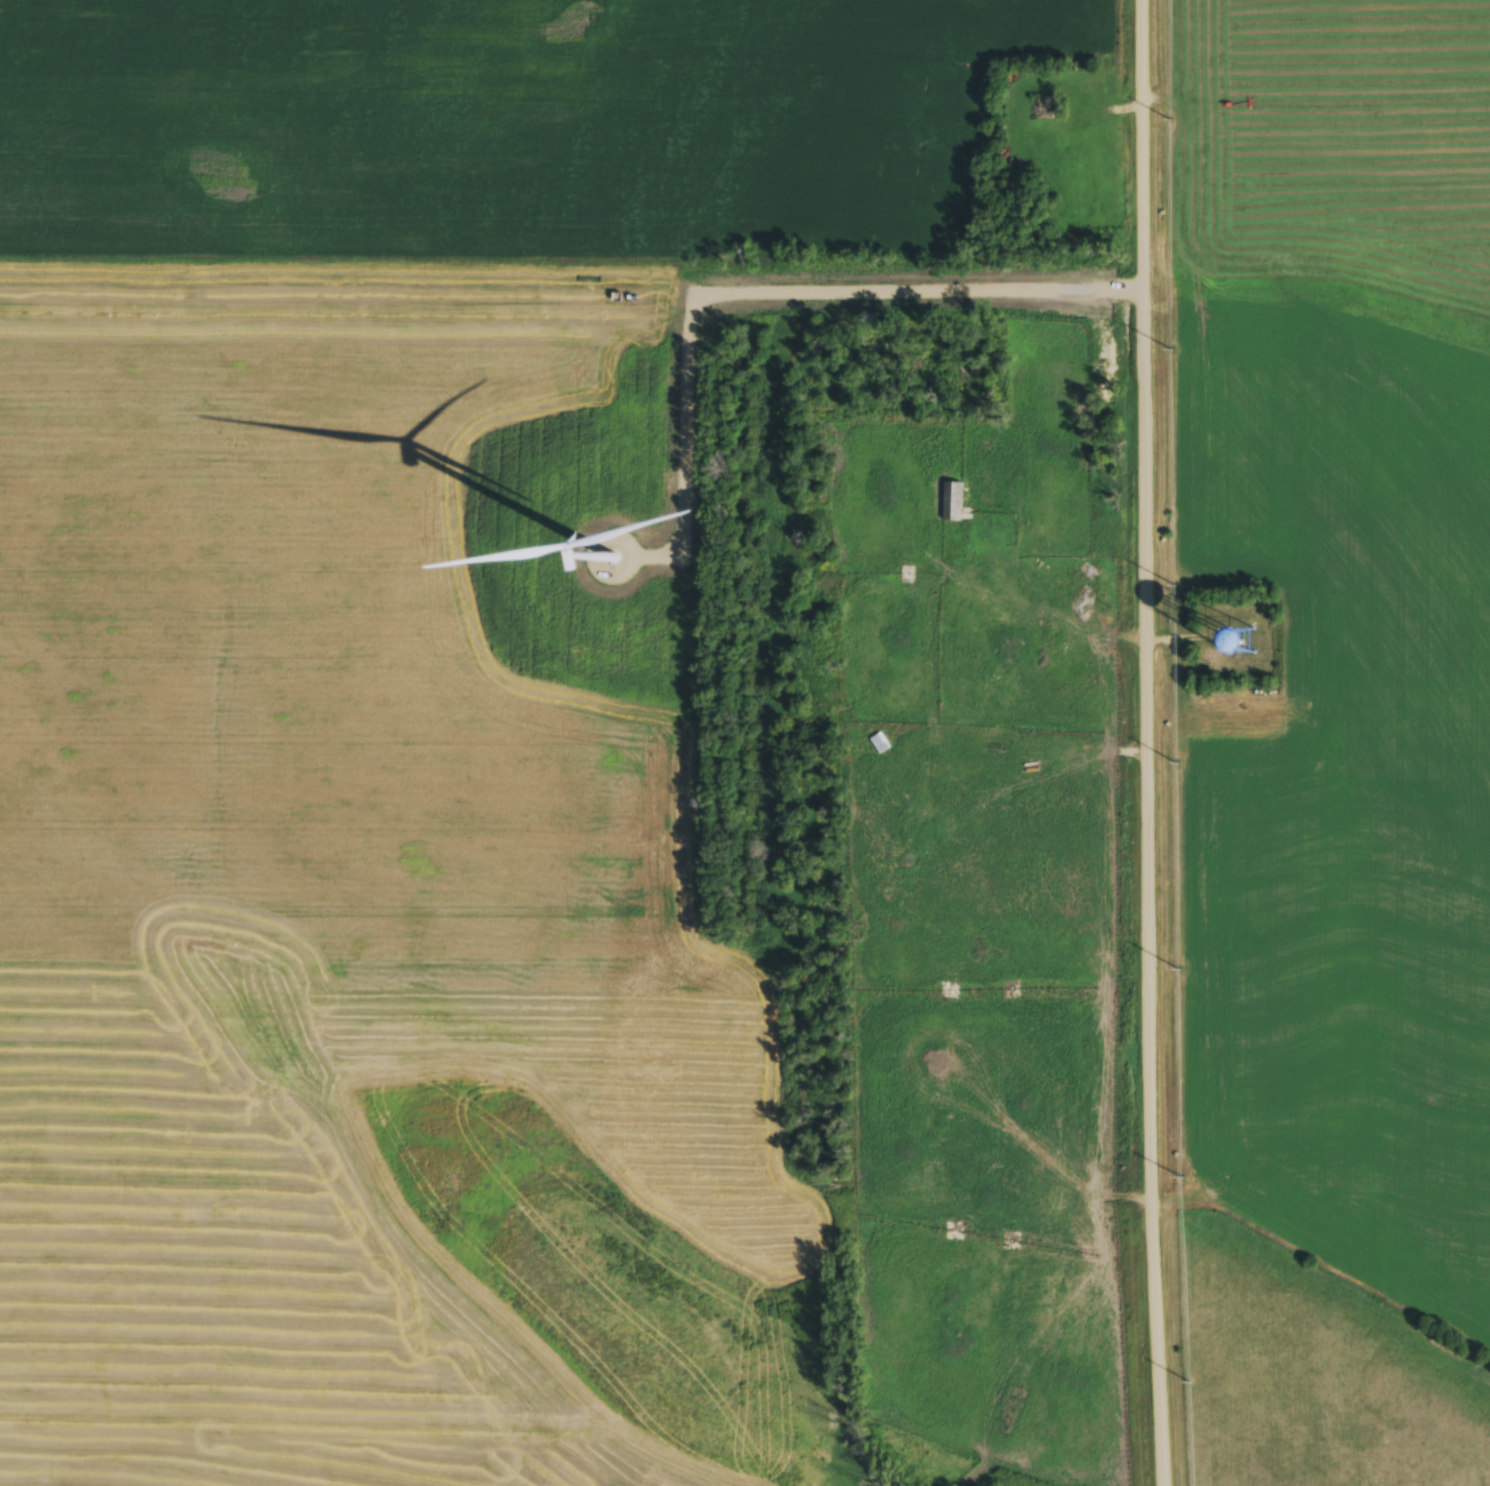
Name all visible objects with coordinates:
building: (953, 504)
wind turbine: (601, 563)
building: (973, 569)
water tower: (1230, 647)
building: (1233, 648)
road: (1159, 743)
building: (543, 1270)

